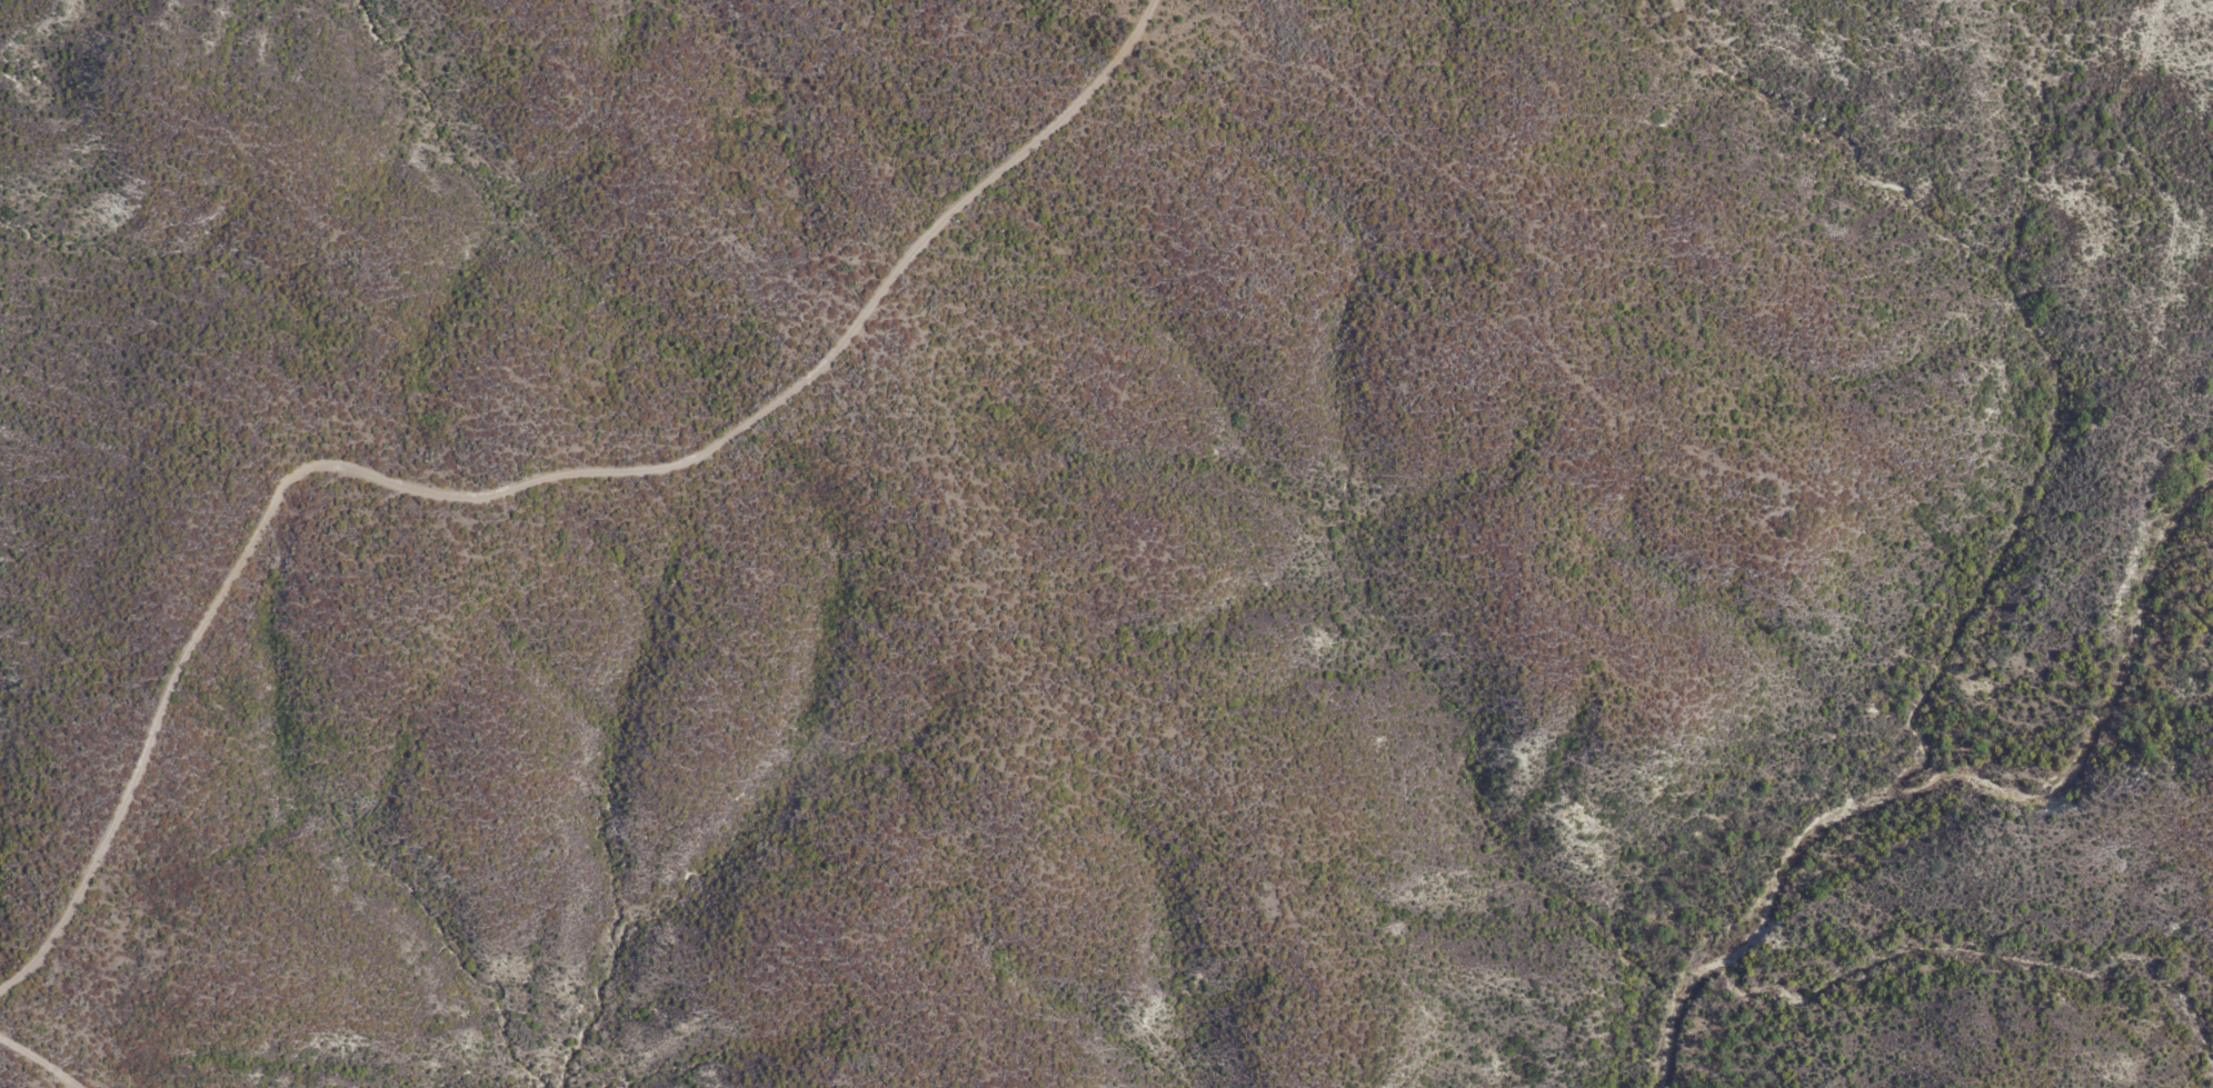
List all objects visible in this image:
road: (524, 483)

